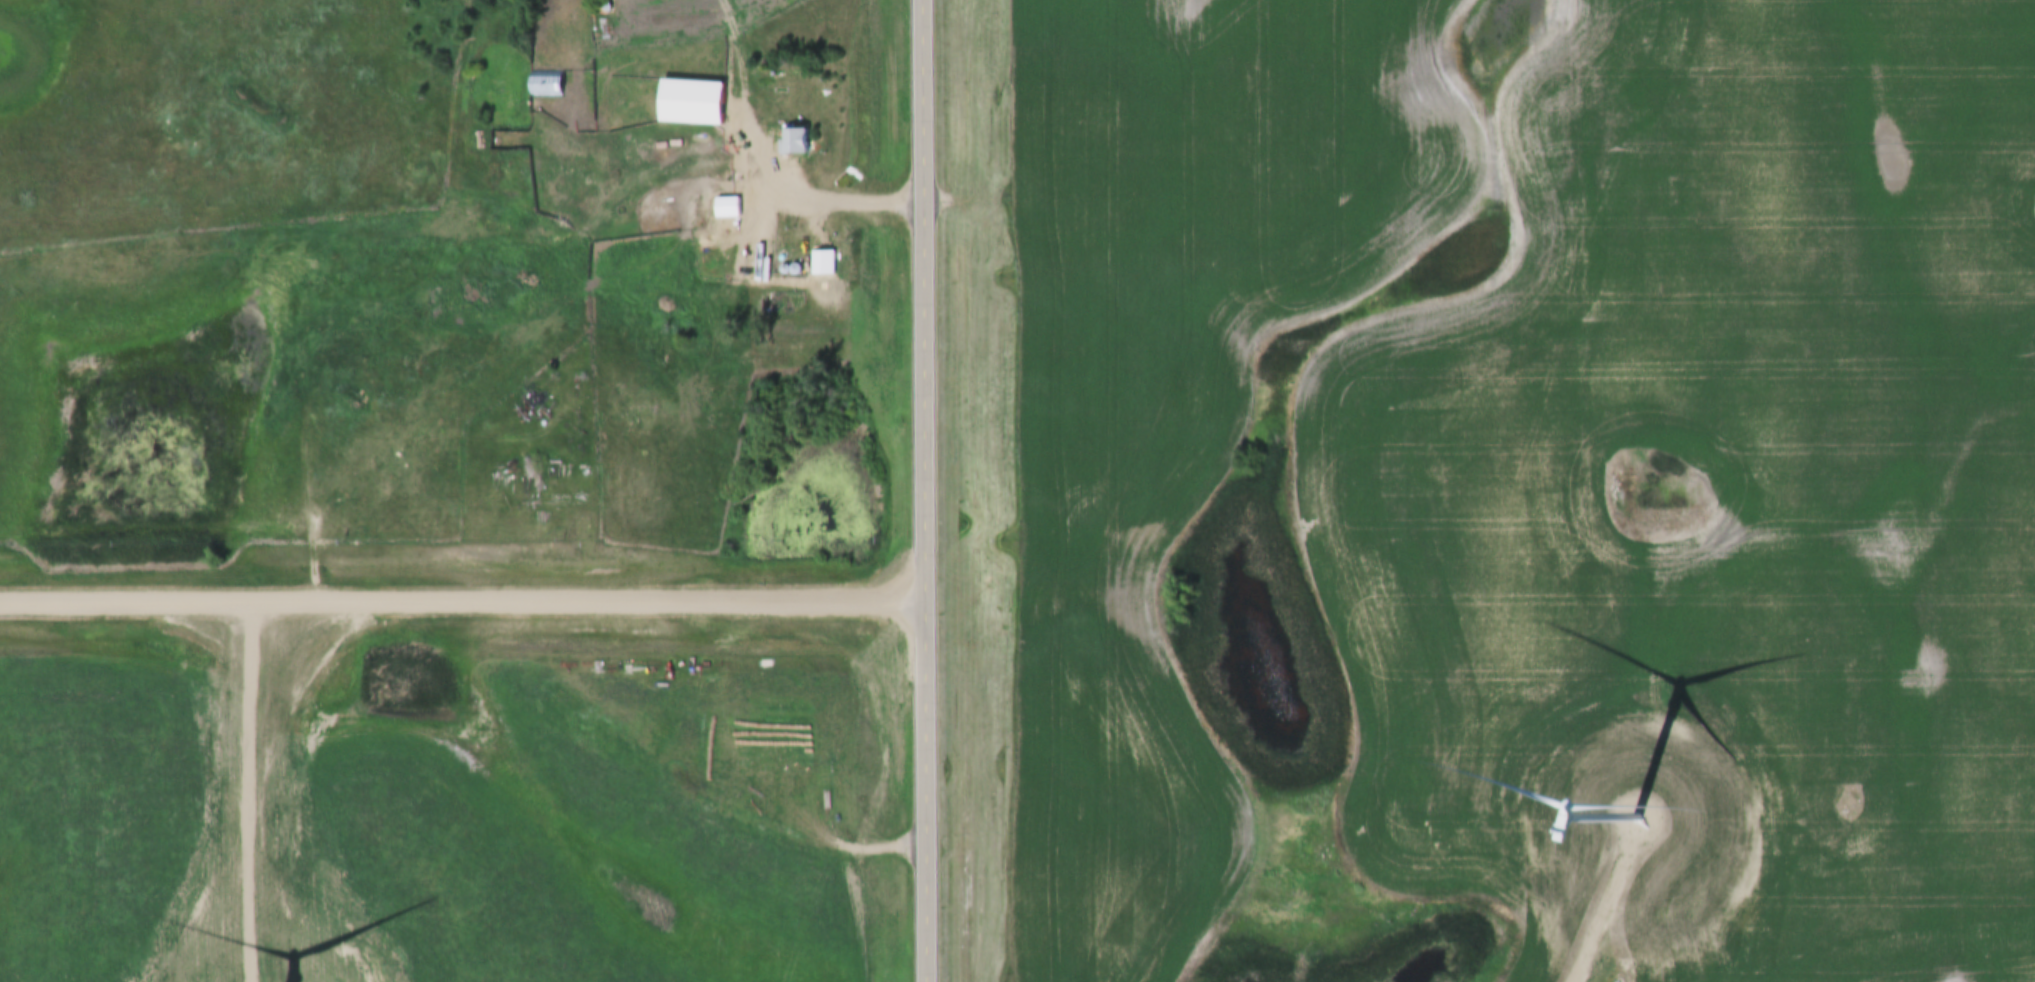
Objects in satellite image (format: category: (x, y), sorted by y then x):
building: (542, 85)
building: (688, 103)
building: (789, 139)
road: (801, 194)
building: (722, 208)
building: (821, 264)
road: (927, 490)
road: (463, 597)
road: (248, 790)
wind turbine: (1612, 795)
road: (1575, 932)

